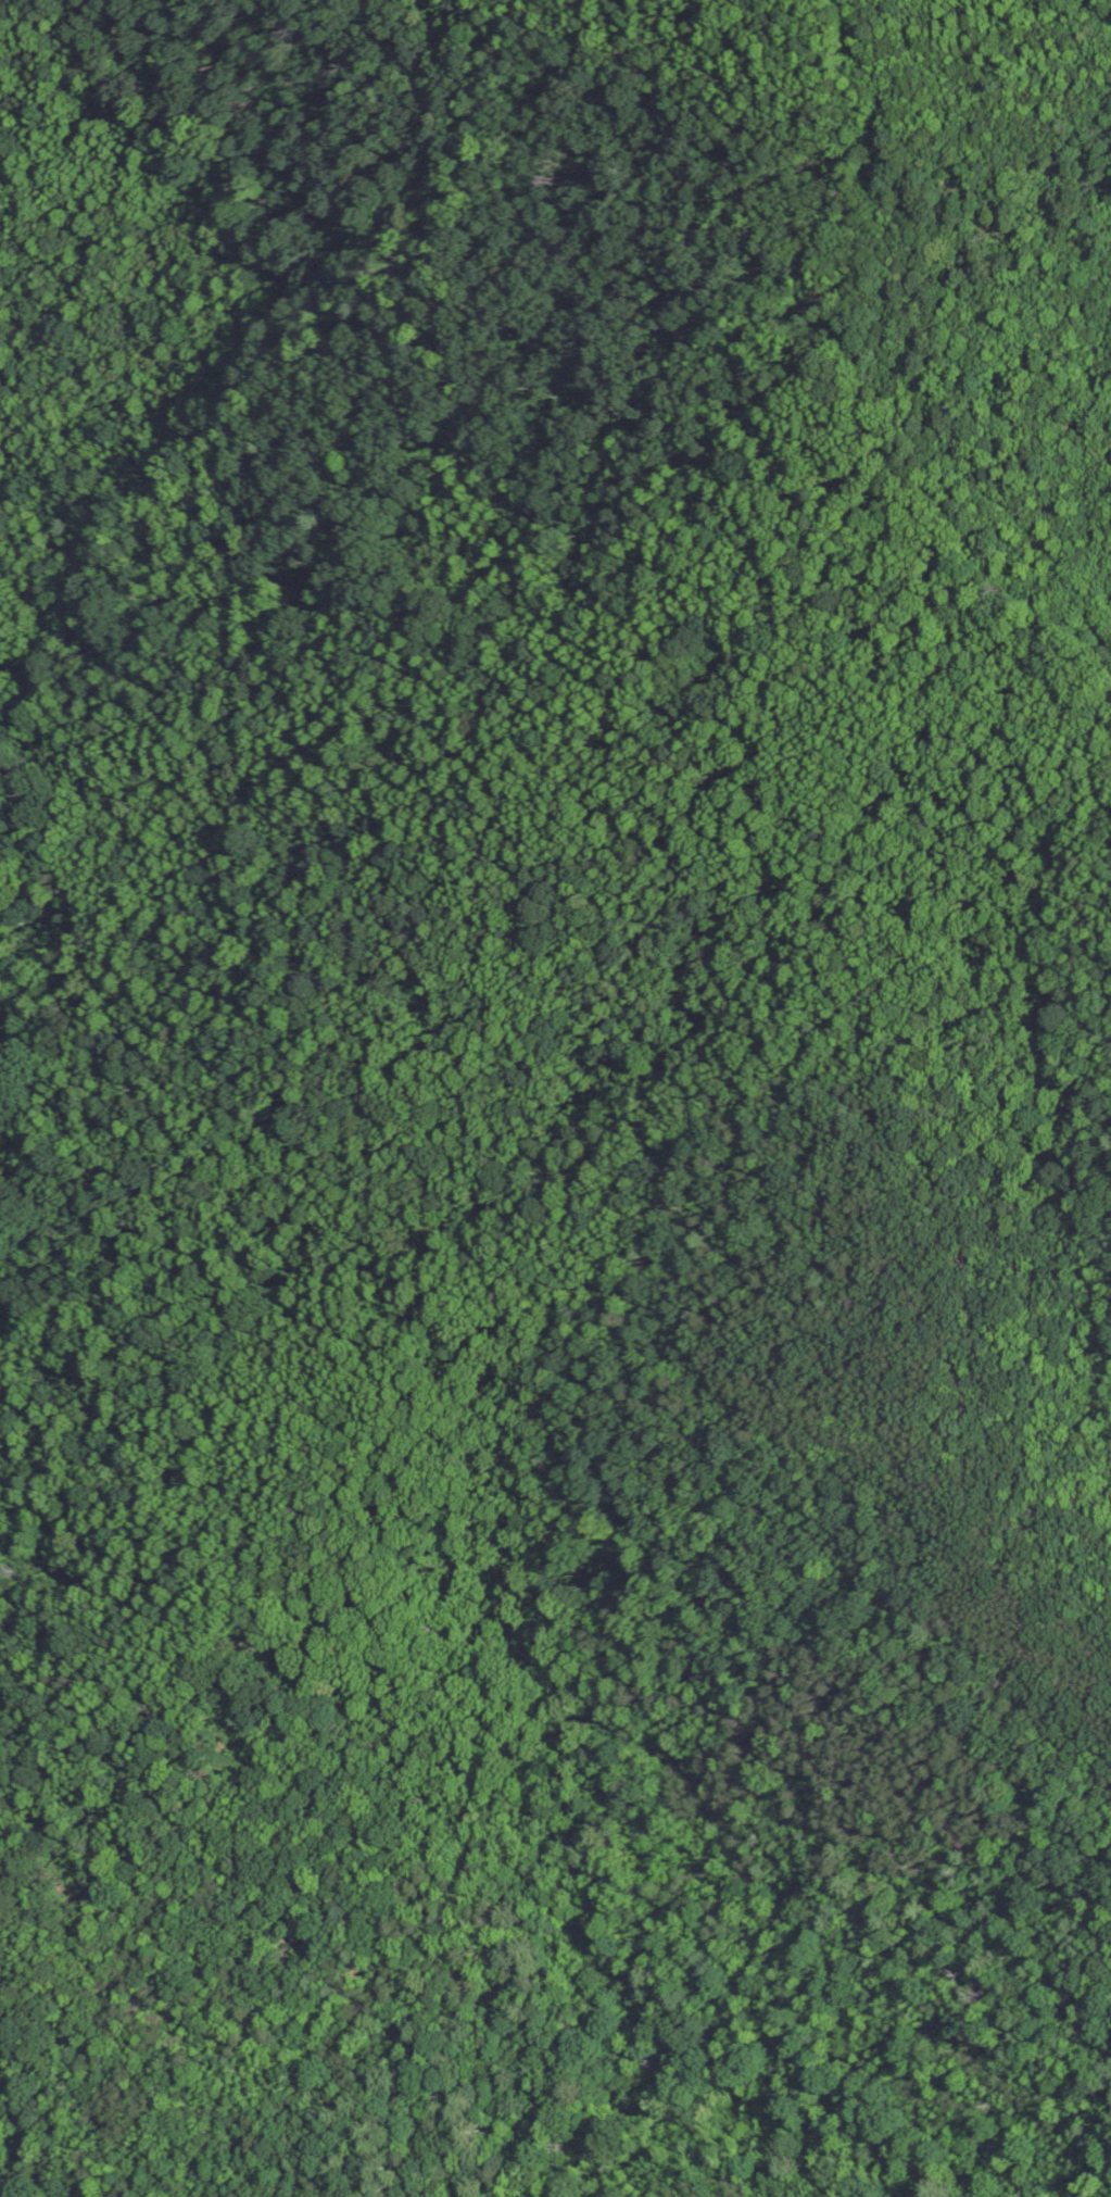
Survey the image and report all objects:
river: (745, 2106)

